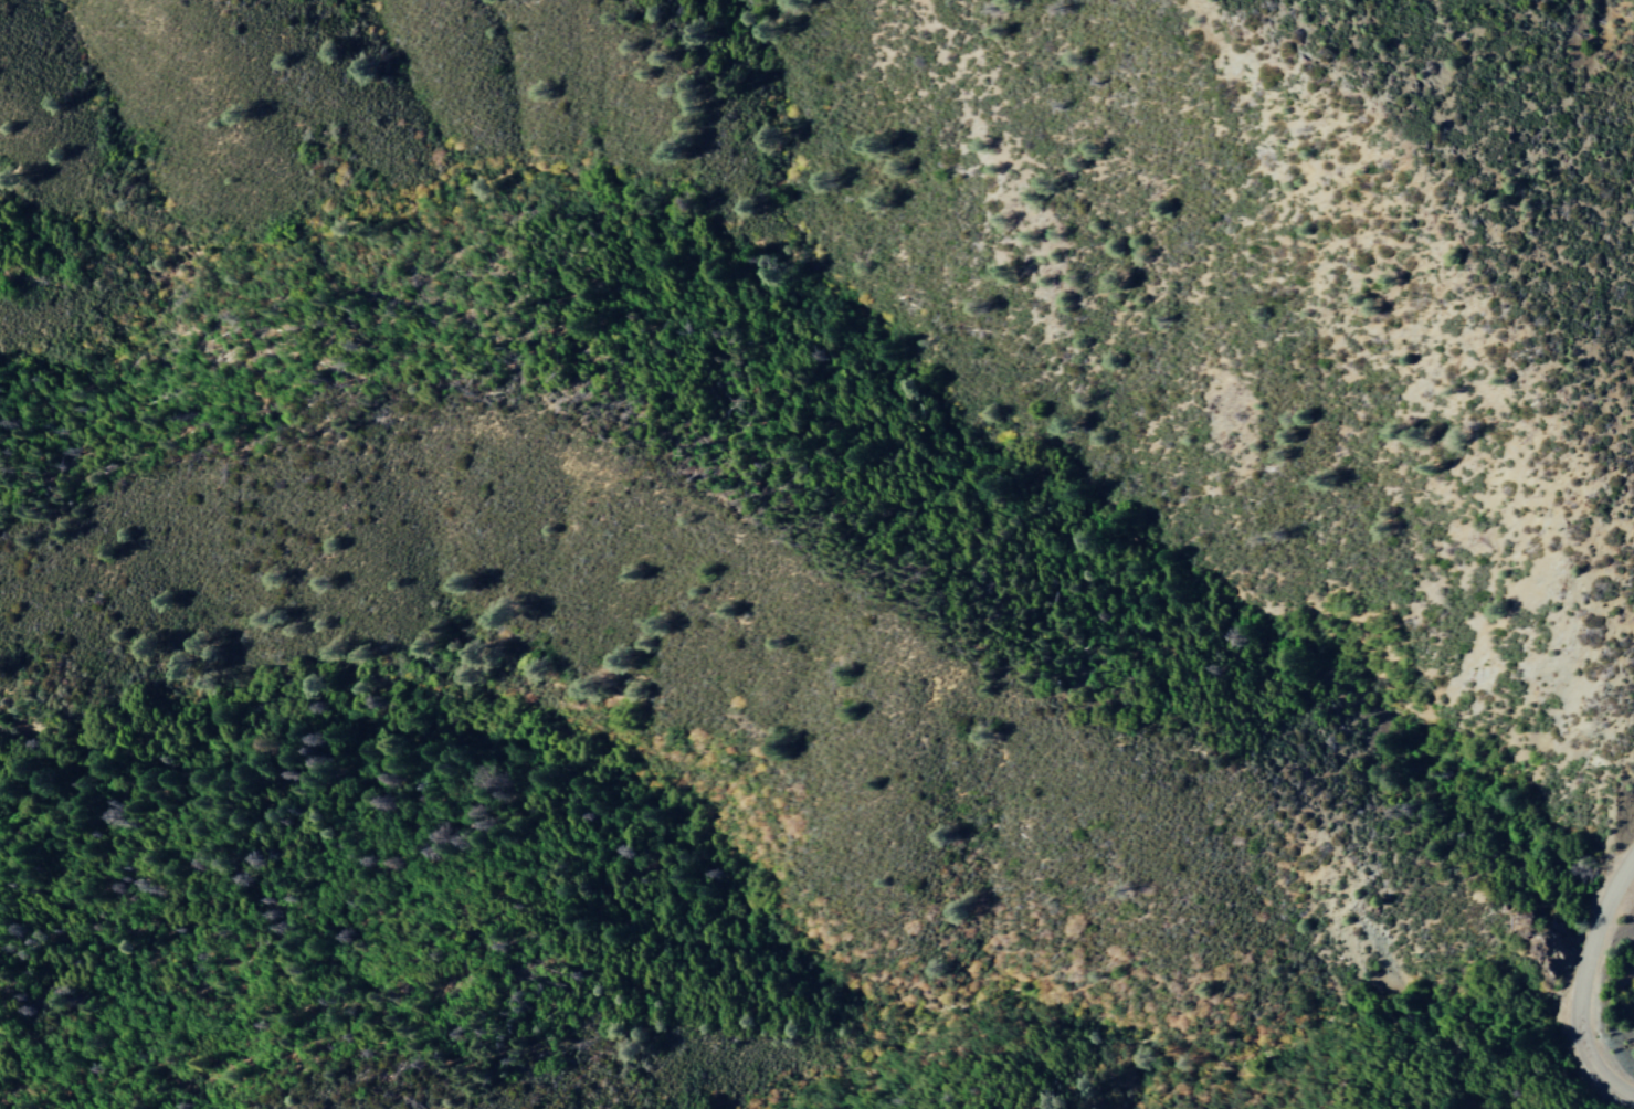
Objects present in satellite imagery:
road: (1589, 975)

